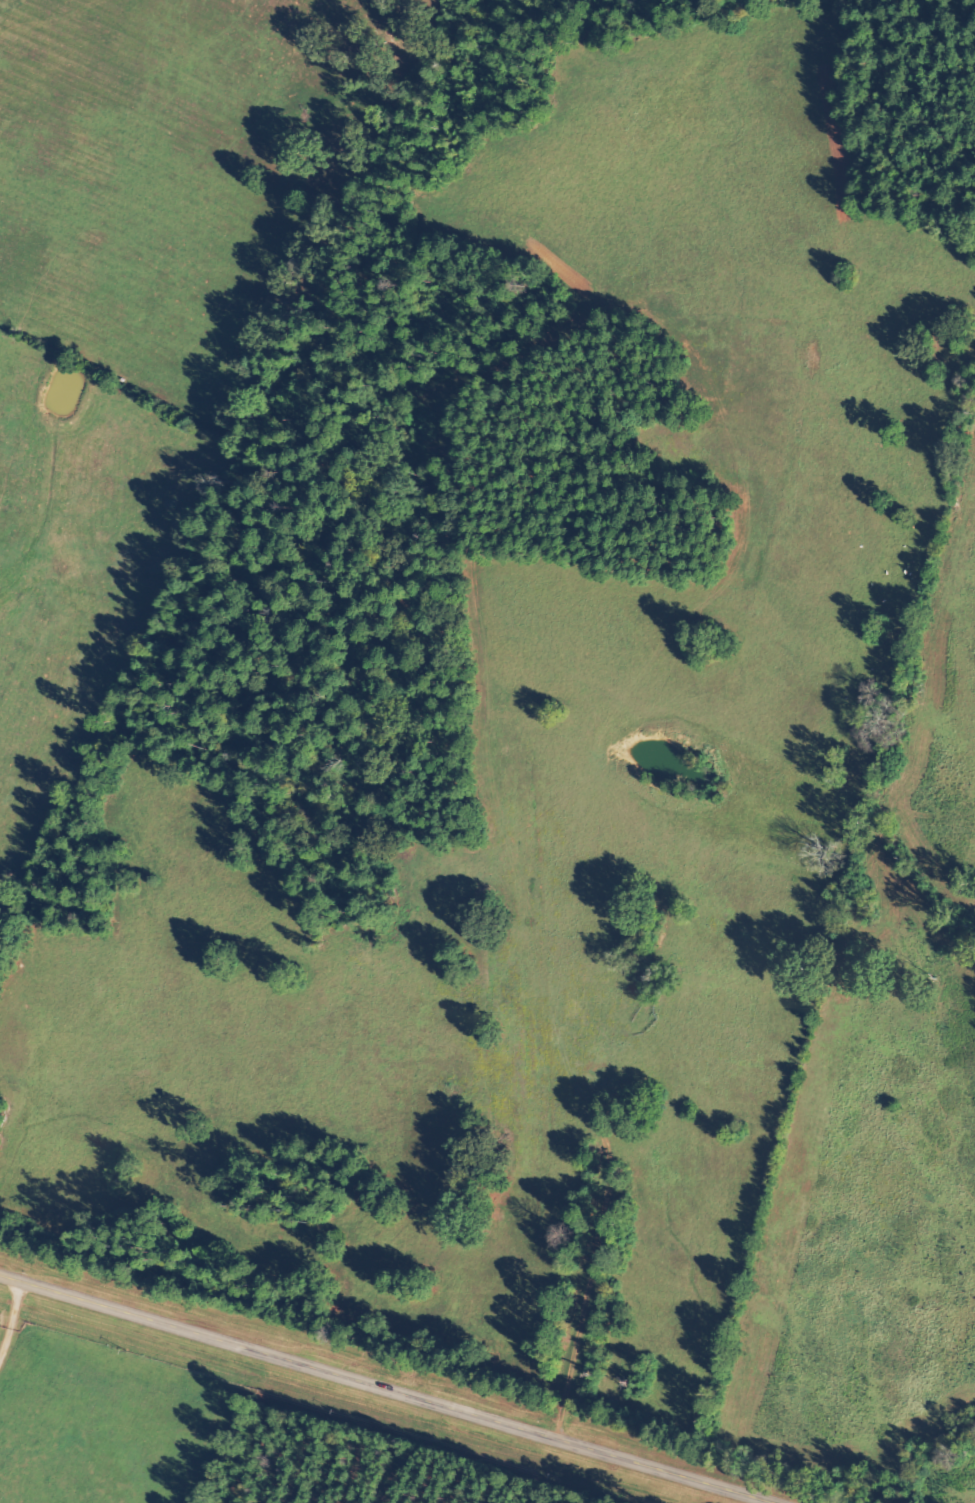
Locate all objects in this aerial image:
road: (387, 1388)

